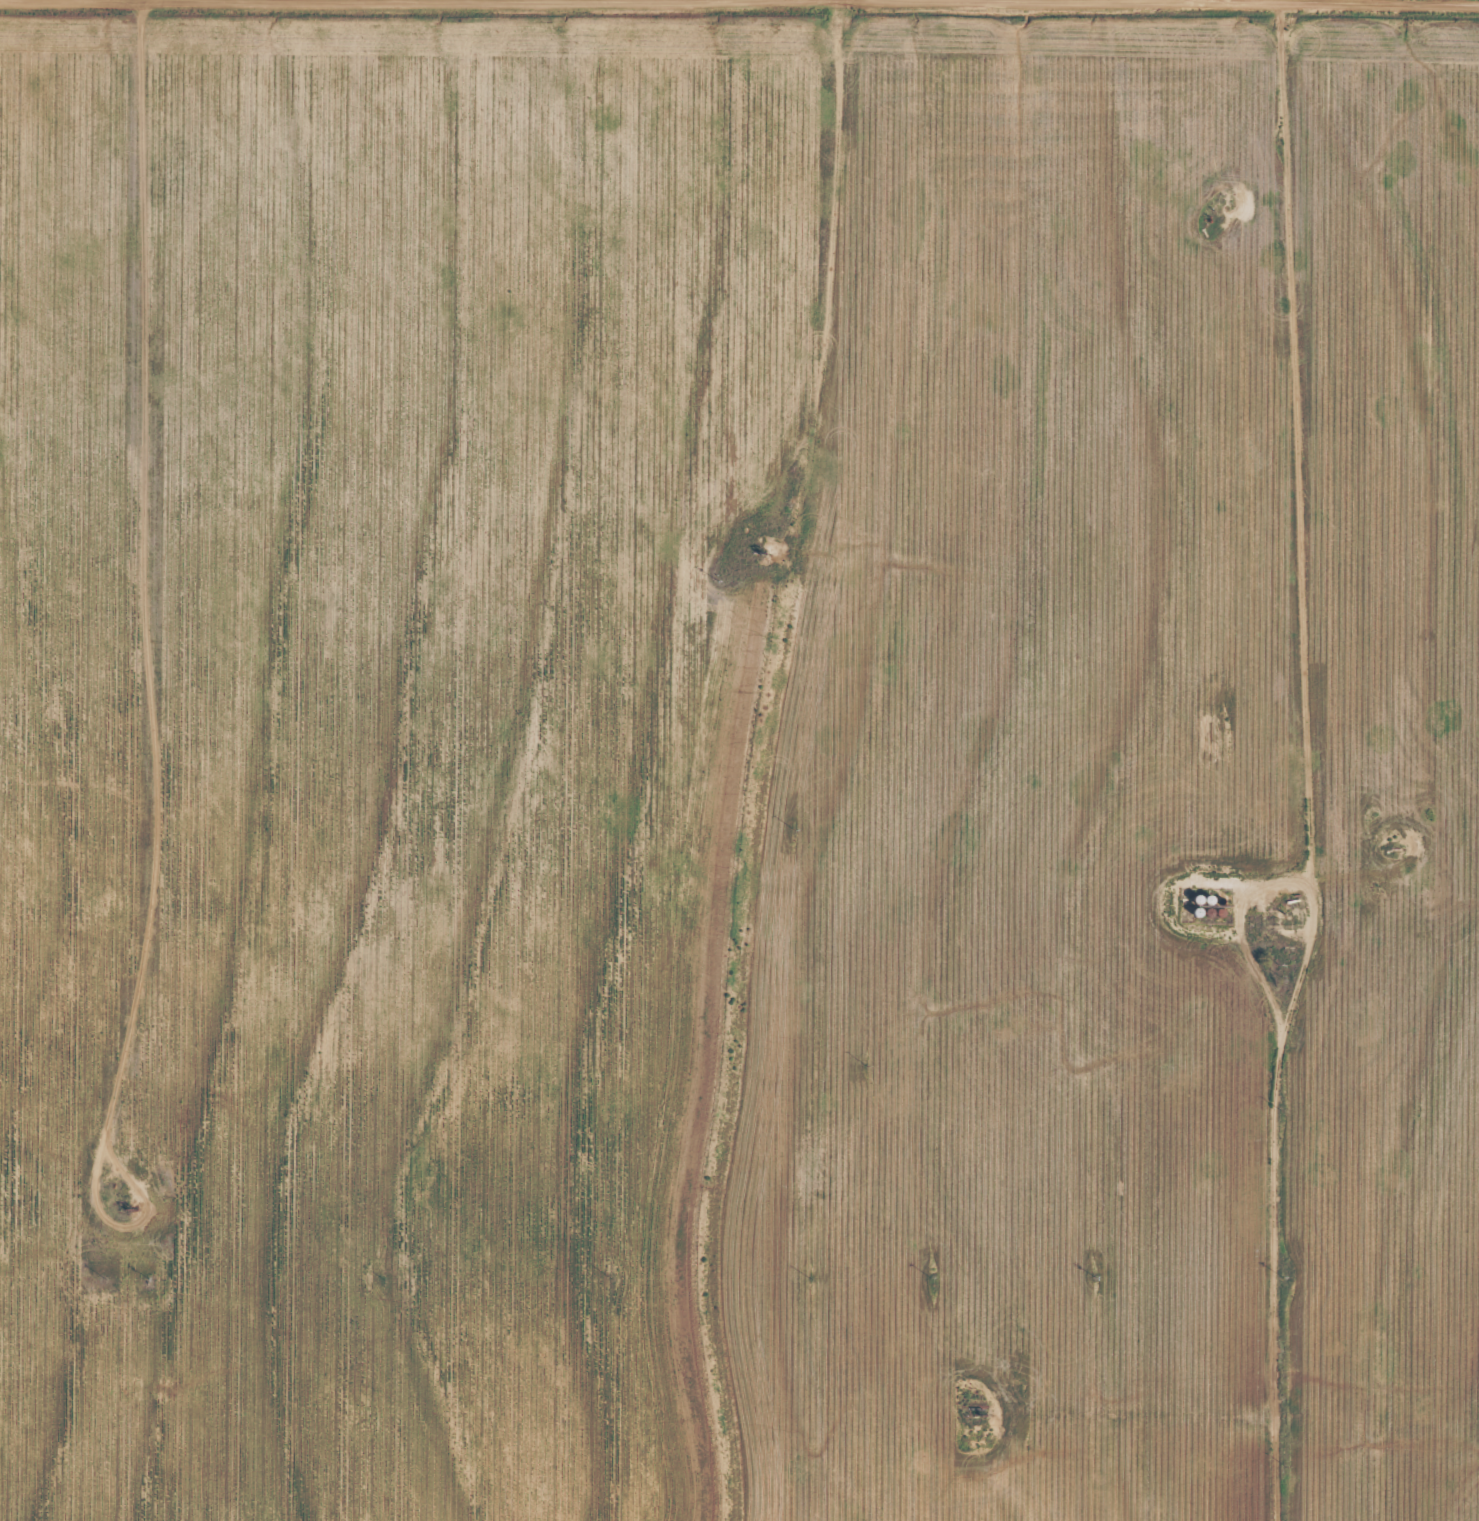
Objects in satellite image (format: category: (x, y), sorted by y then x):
petroleum well: (1226, 197)
road: (1392, 433)
petroleum well: (776, 550)
road: (1313, 762)
road: (1393, 898)
petroleum well: (131, 1207)
petroleum well: (988, 1410)

